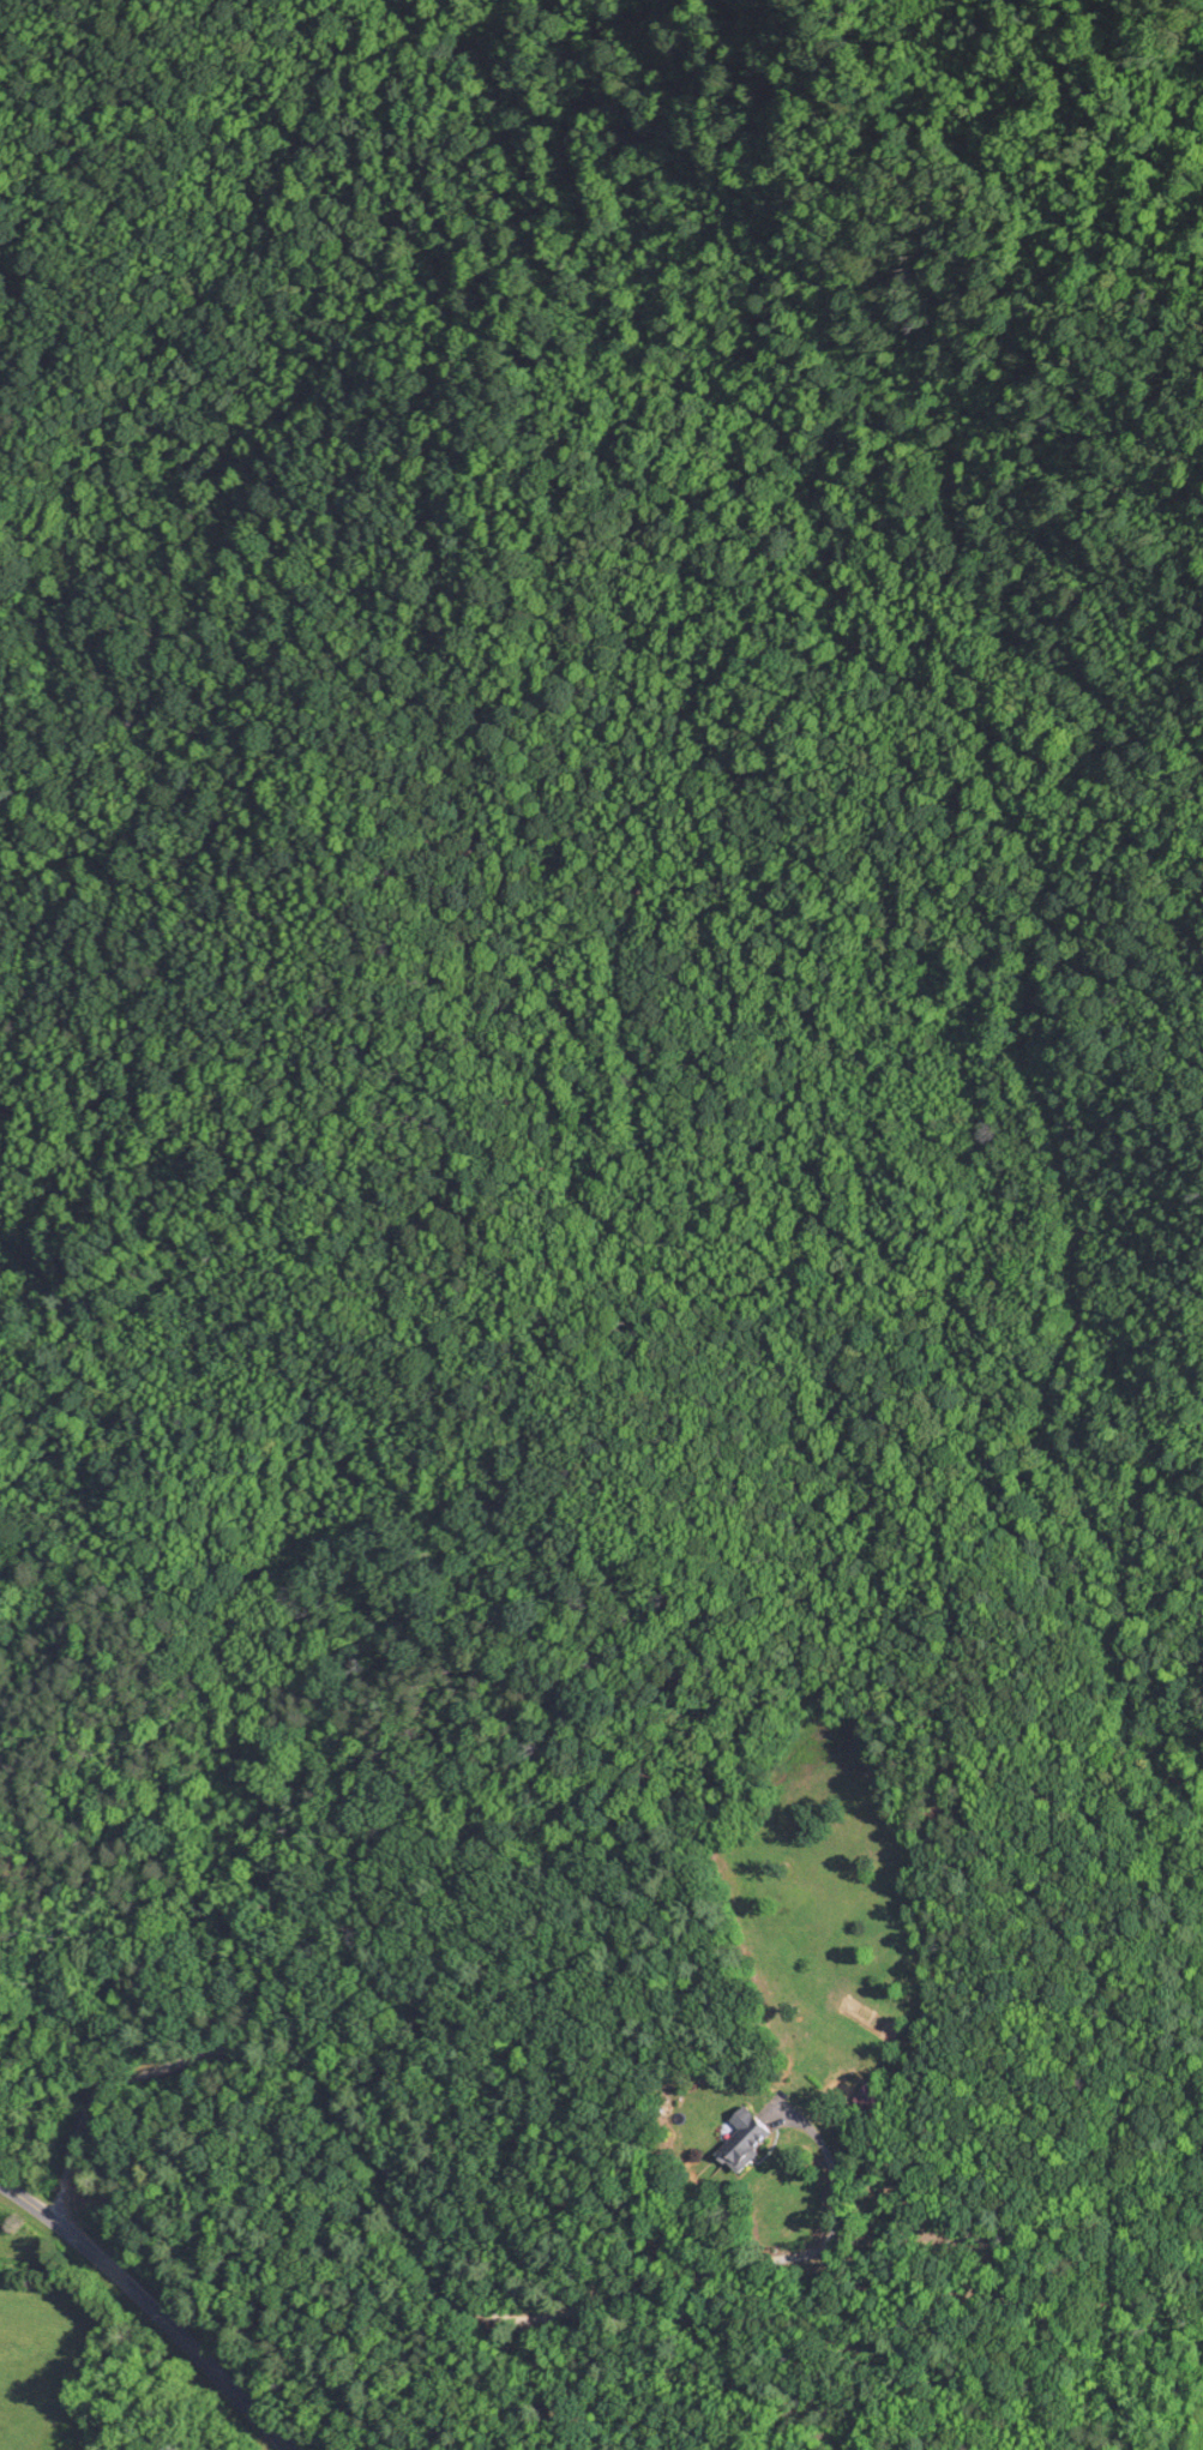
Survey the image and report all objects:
building: (740, 2137)
road: (151, 2310)

